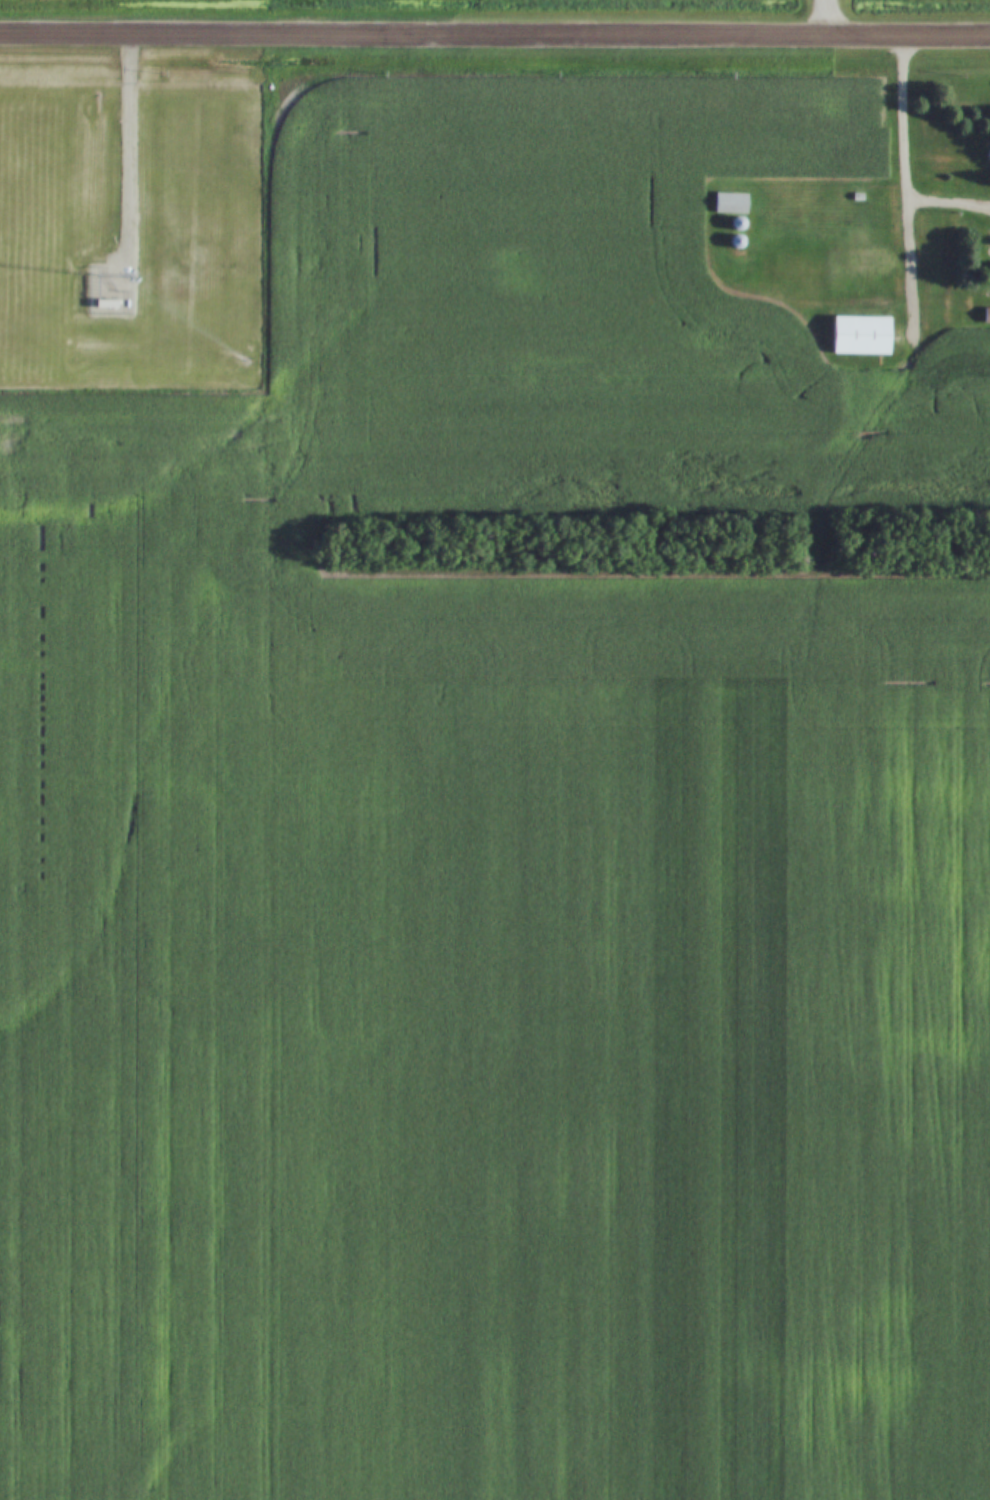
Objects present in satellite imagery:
road: (494, 33)
road: (903, 153)
road: (123, 160)
building: (852, 198)
building: (724, 204)
building: (733, 225)
silo: (733, 225)
building: (732, 243)
silo: (732, 243)
building: (99, 304)
building: (853, 336)

